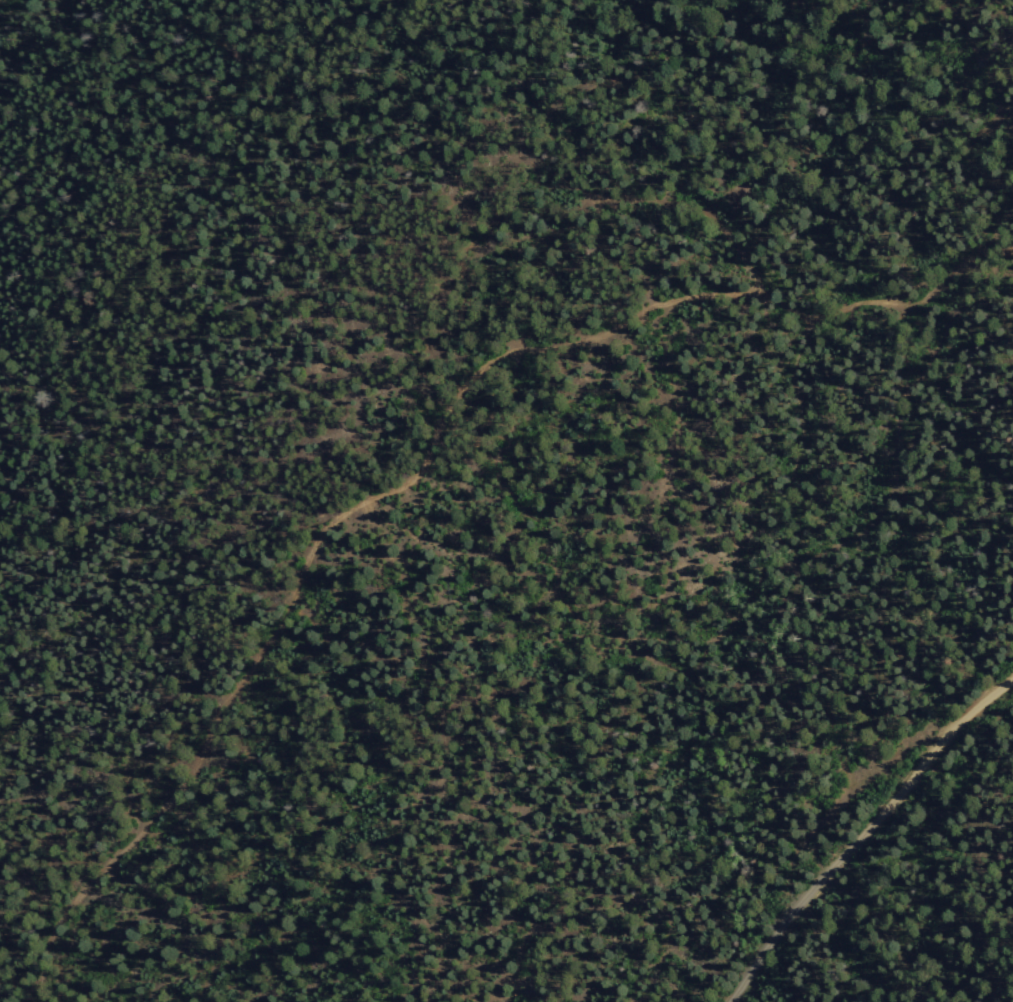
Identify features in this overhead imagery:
road: (839, 815)

